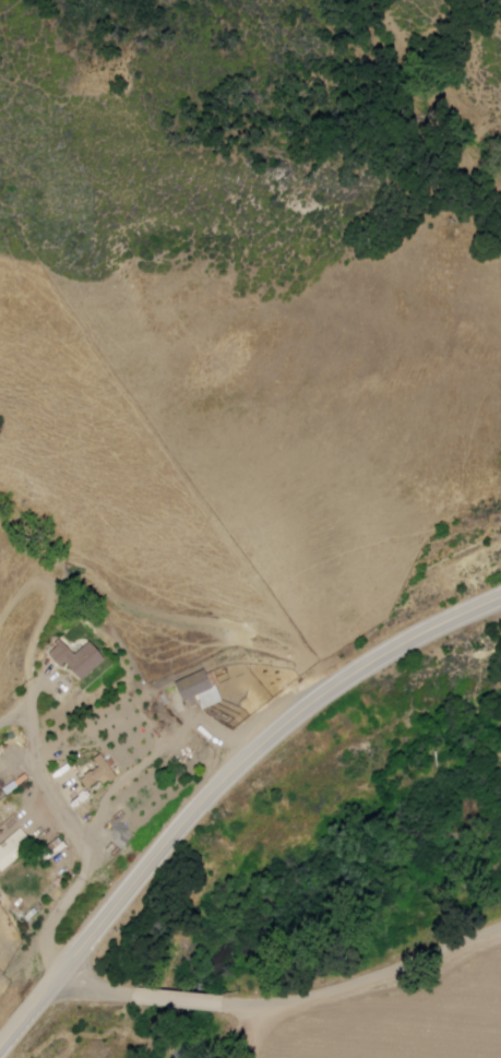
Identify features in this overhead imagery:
road: (50, 594)
building: (80, 659)
building: (196, 685)
road: (14, 718)
road: (155, 754)
building: (103, 773)
road: (217, 787)
road: (76, 833)
building: (15, 848)
building: (49, 849)
road: (284, 1003)
crop: (406, 1018)
road: (247, 1031)

